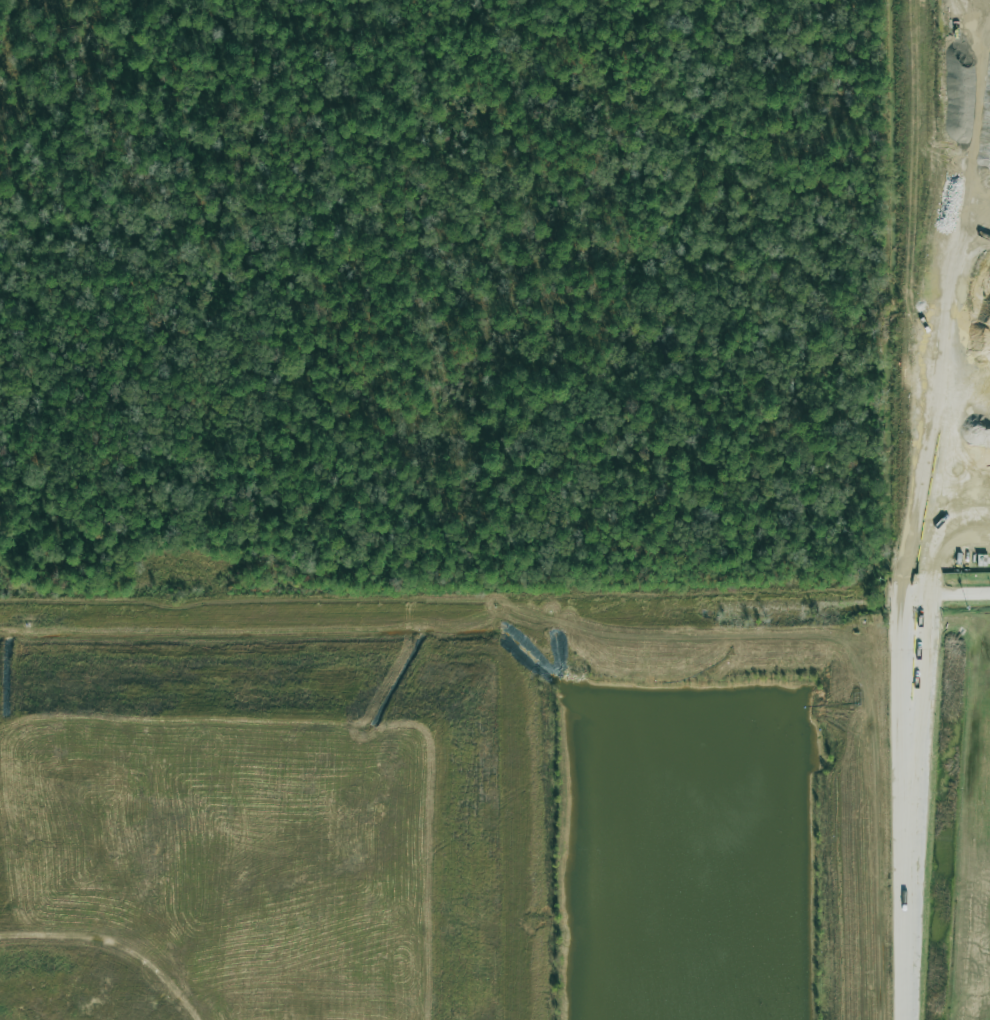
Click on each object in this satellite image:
road: (948, 594)
road: (902, 807)
landfill: (432, 816)

